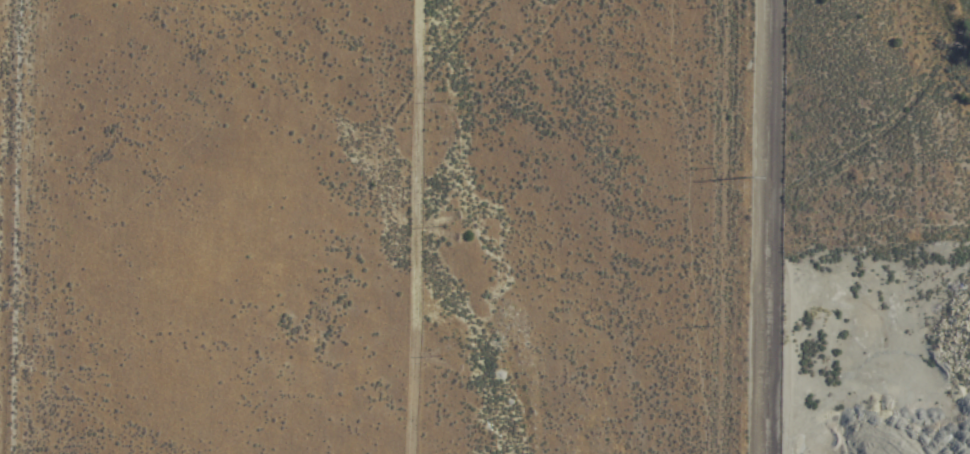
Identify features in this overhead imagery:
road: (763, 226)

